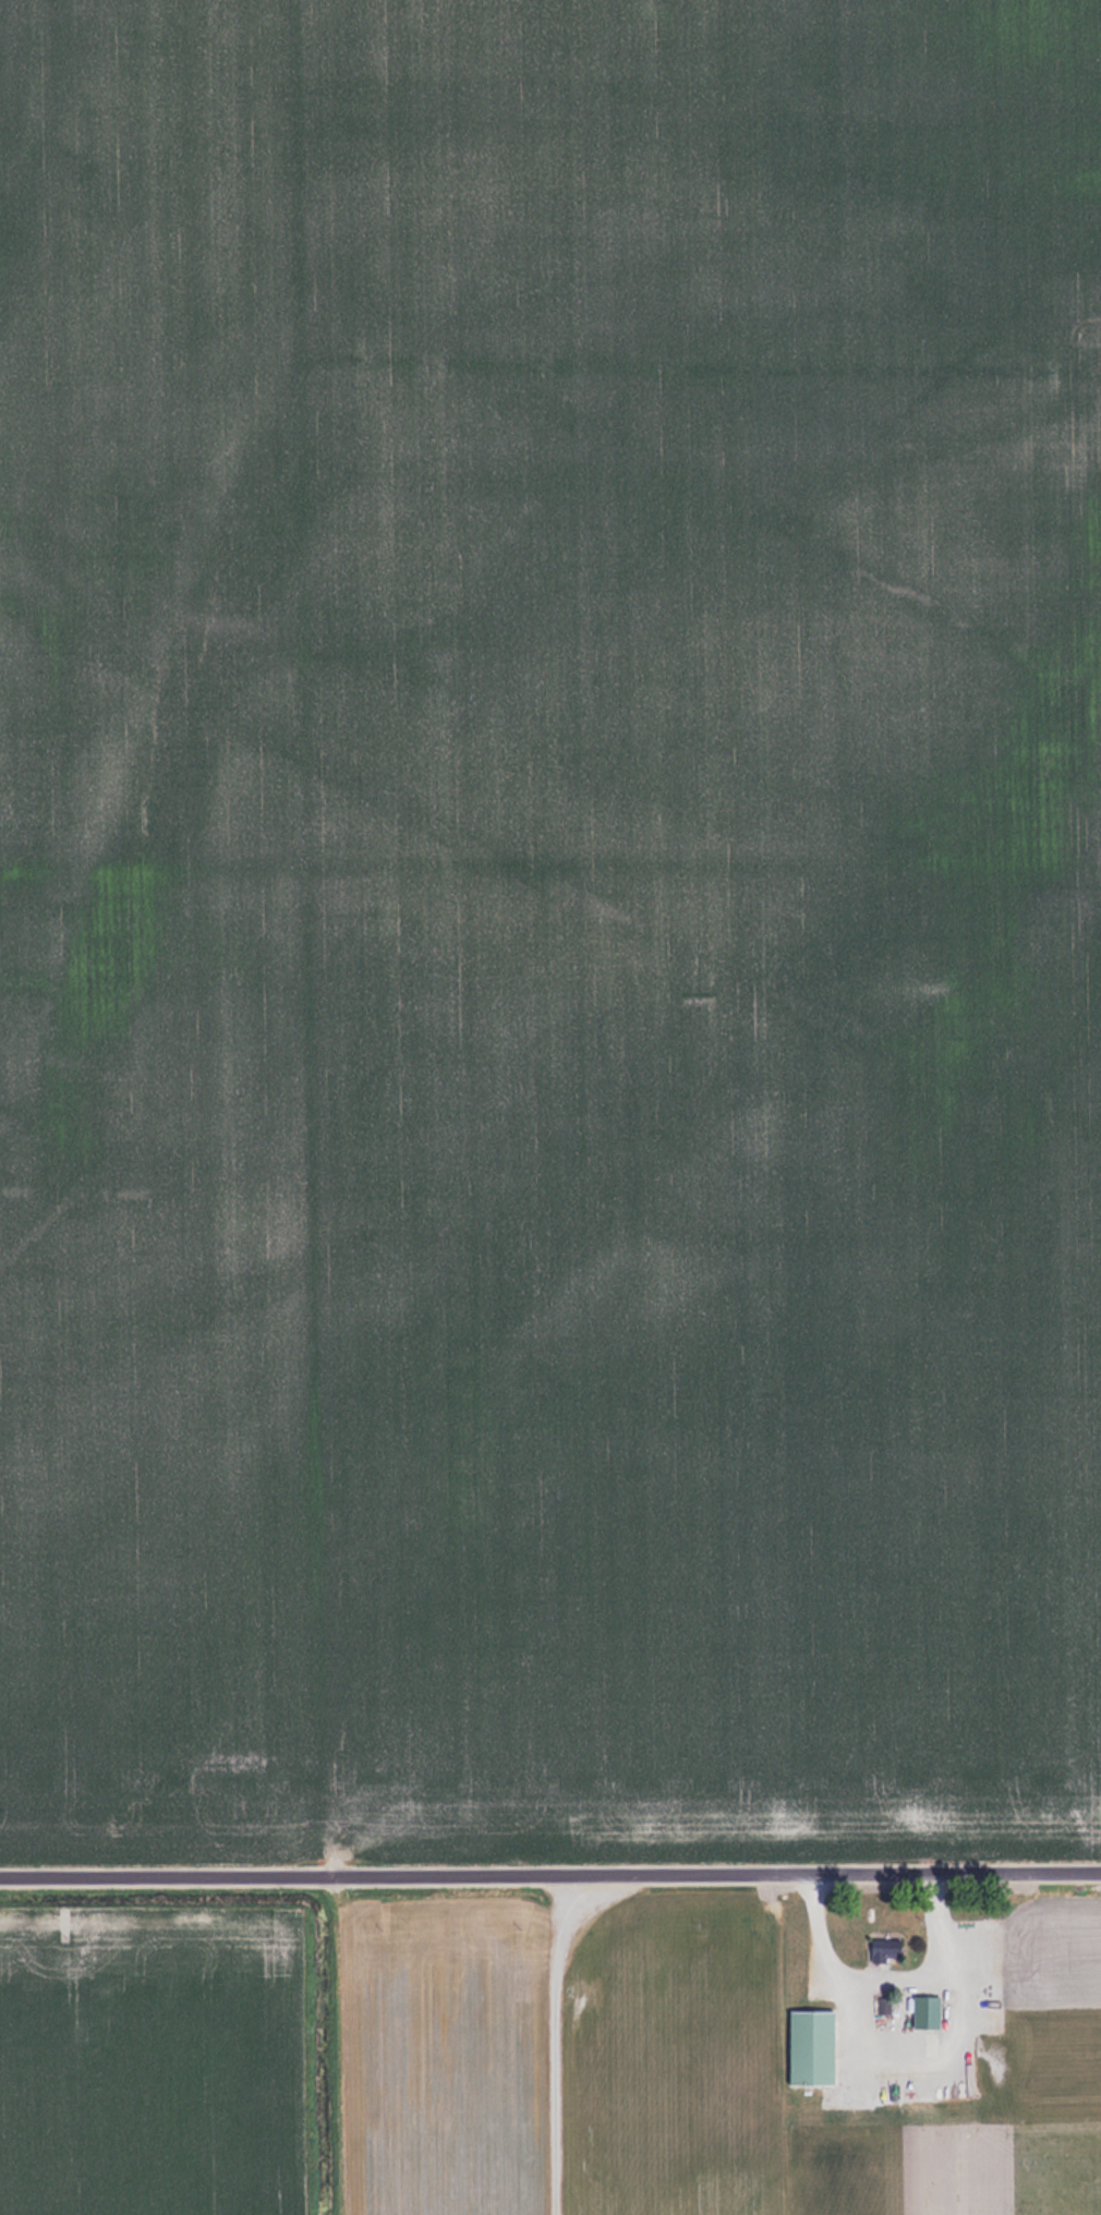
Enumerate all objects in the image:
road: (549, 1880)
building: (884, 1949)
building: (953, 1963)
building: (924, 2010)
building: (809, 2046)
road: (552, 2047)

